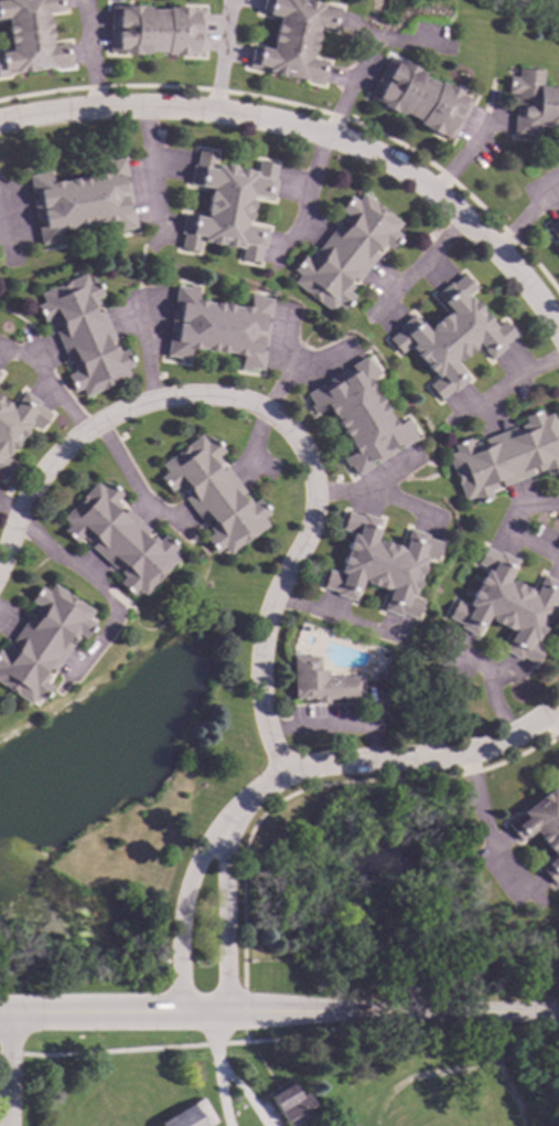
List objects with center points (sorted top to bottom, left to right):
park: (540, 9)
building: (154, 29)
building: (30, 36)
building: (292, 38)
road: (89, 52)
road: (223, 53)
road: (369, 53)
building: (418, 98)
building: (531, 102)
road: (316, 128)
road: (466, 152)
road: (152, 168)
road: (305, 195)
building: (80, 200)
building: (226, 205)
road: (525, 215)
building: (555, 231)
road: (4, 233)
building: (345, 252)
road: (417, 266)
building: (216, 326)
building: (82, 334)
building: (449, 336)
road: (282, 342)
road: (148, 344)
road: (294, 368)
road: (47, 378)
road: (517, 381)
building: (357, 415)
building: (17, 423)
road: (281, 428)
road: (252, 444)
building: (504, 456)
road: (130, 481)
road: (362, 487)
building: (212, 493)
road: (8, 511)
road: (508, 524)
building: (118, 538)
building: (379, 563)
road: (94, 582)
building: (507, 604)
road: (334, 617)
building: (41, 641)
building: (318, 681)
road: (490, 684)
road: (553, 726)
road: (426, 758)
road: (240, 805)
building: (541, 826)
road: (485, 833)
road: (195, 1013)
road: (279, 1015)
road: (212, 1041)
road: (494, 1059)
road: (4, 1072)
road: (423, 1075)
park: (272, 1076)
road: (244, 1093)
road: (219, 1096)
building: (288, 1104)
building: (189, 1116)

